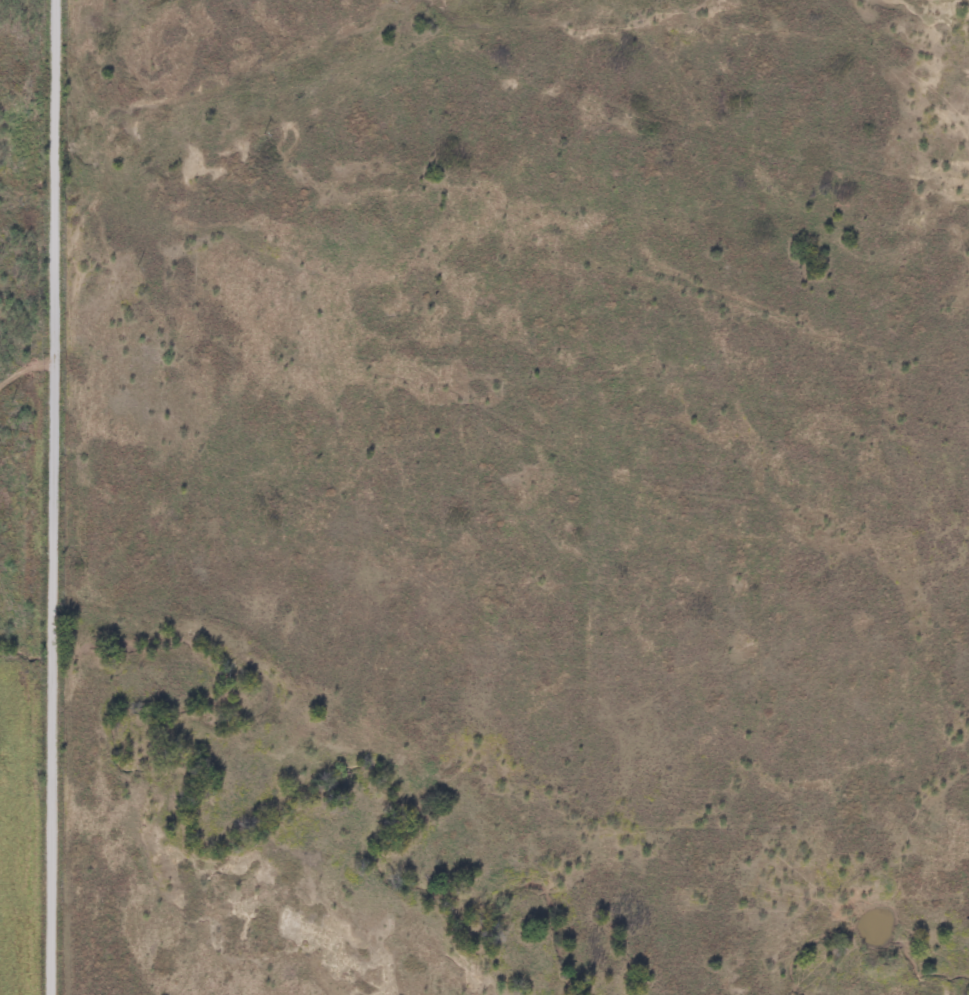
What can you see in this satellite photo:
road: (55, 497)

